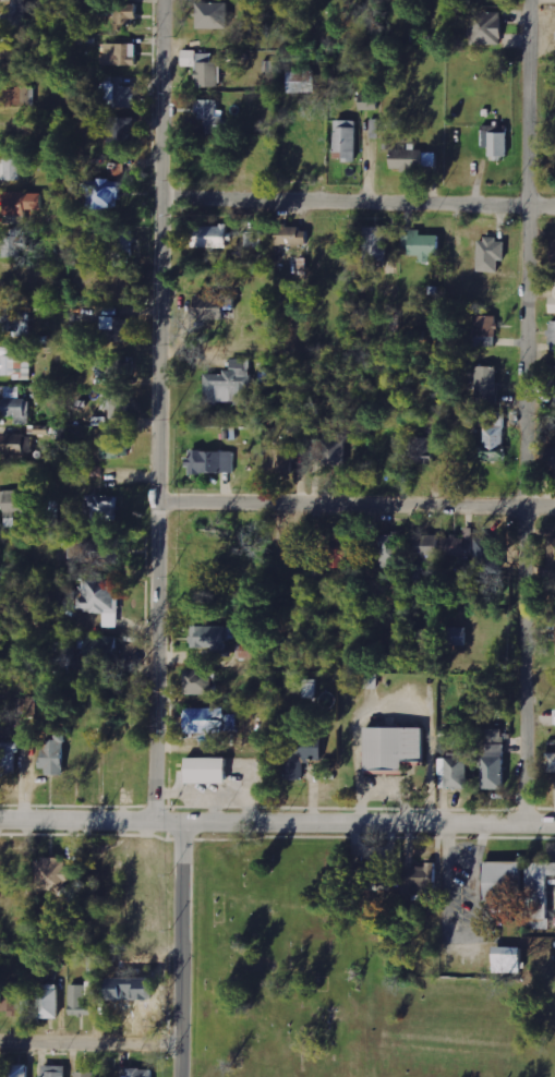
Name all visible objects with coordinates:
building: (17, 15)
building: (215, 15)
building: (486, 26)
building: (17, 50)
building: (120, 56)
building: (204, 68)
building: (302, 82)
building: (120, 96)
building: (20, 97)
building: (212, 116)
building: (118, 130)
building: (347, 140)
building: (497, 142)
building: (413, 159)
building: (12, 169)
building: (105, 194)
building: (23, 203)
road: (354, 203)
building: (293, 235)
building: (214, 237)
building: (253, 239)
building: (13, 243)
building: (121, 244)
building: (377, 244)
building: (425, 245)
building: (554, 251)
building: (492, 254)
building: (553, 304)
building: (212, 306)
building: (16, 324)
building: (120, 328)
building: (486, 330)
building: (553, 332)
building: (17, 365)
building: (114, 366)
building: (230, 385)
building: (487, 385)
building: (14, 406)
building: (116, 406)
road: (156, 411)
road: (523, 413)
building: (494, 441)
building: (17, 445)
building: (116, 446)
building: (330, 450)
building: (425, 450)
building: (282, 458)
building: (210, 462)
building: (15, 505)
road: (355, 505)
building: (459, 544)
building: (429, 546)
building: (337, 552)
building: (389, 552)
building: (488, 559)
building: (101, 596)
building: (456, 636)
building: (210, 637)
building: (102, 651)
building: (246, 651)
building: (200, 682)
building: (307, 687)
building: (209, 721)
building: (393, 748)
building: (55, 752)
building: (9, 759)
building: (302, 759)
building: (495, 759)
building: (551, 763)
building: (208, 771)
building: (458, 772)
road: (277, 824)
building: (53, 874)
building: (417, 881)
building: (504, 881)
building: (539, 895)
road: (178, 949)
building: (509, 959)
park: (335, 978)
building: (83, 997)
building: (11, 1000)
building: (50, 1001)
road: (89, 1040)
building: (17, 1070)
building: (56, 1070)
building: (142, 1072)
building: (86, 1074)

